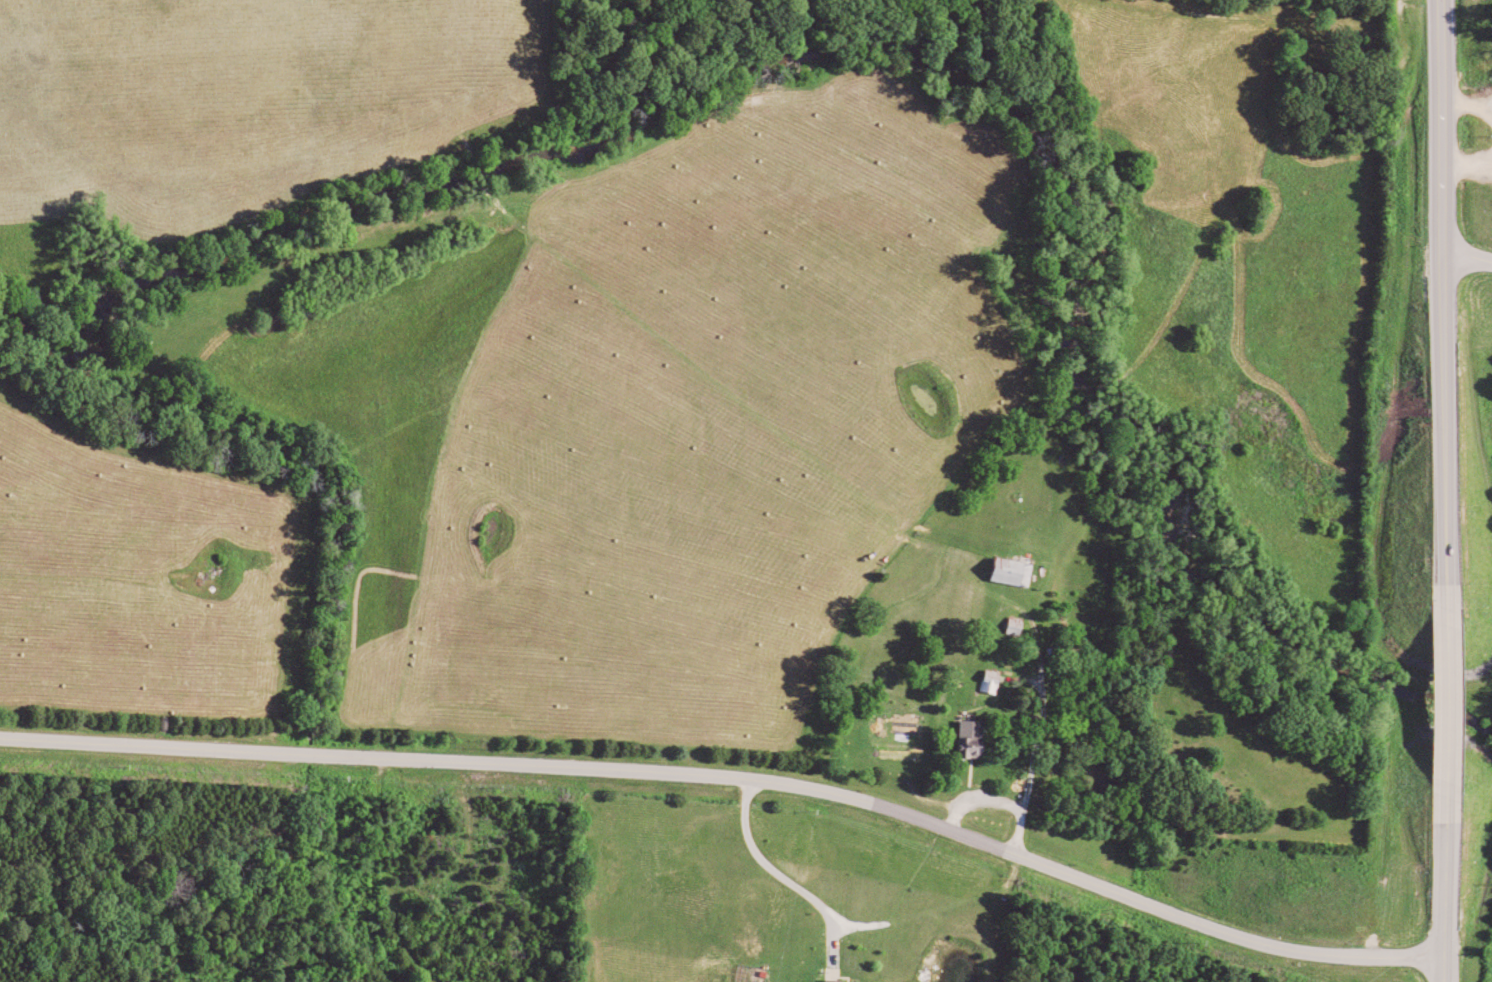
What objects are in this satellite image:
road: (1438, 127)
road: (1465, 261)
road: (1438, 415)
building: (1018, 574)
building: (995, 680)
road: (1436, 684)
building: (976, 737)
road: (731, 775)
road: (1435, 873)
road: (1435, 968)
building: (838, 980)

